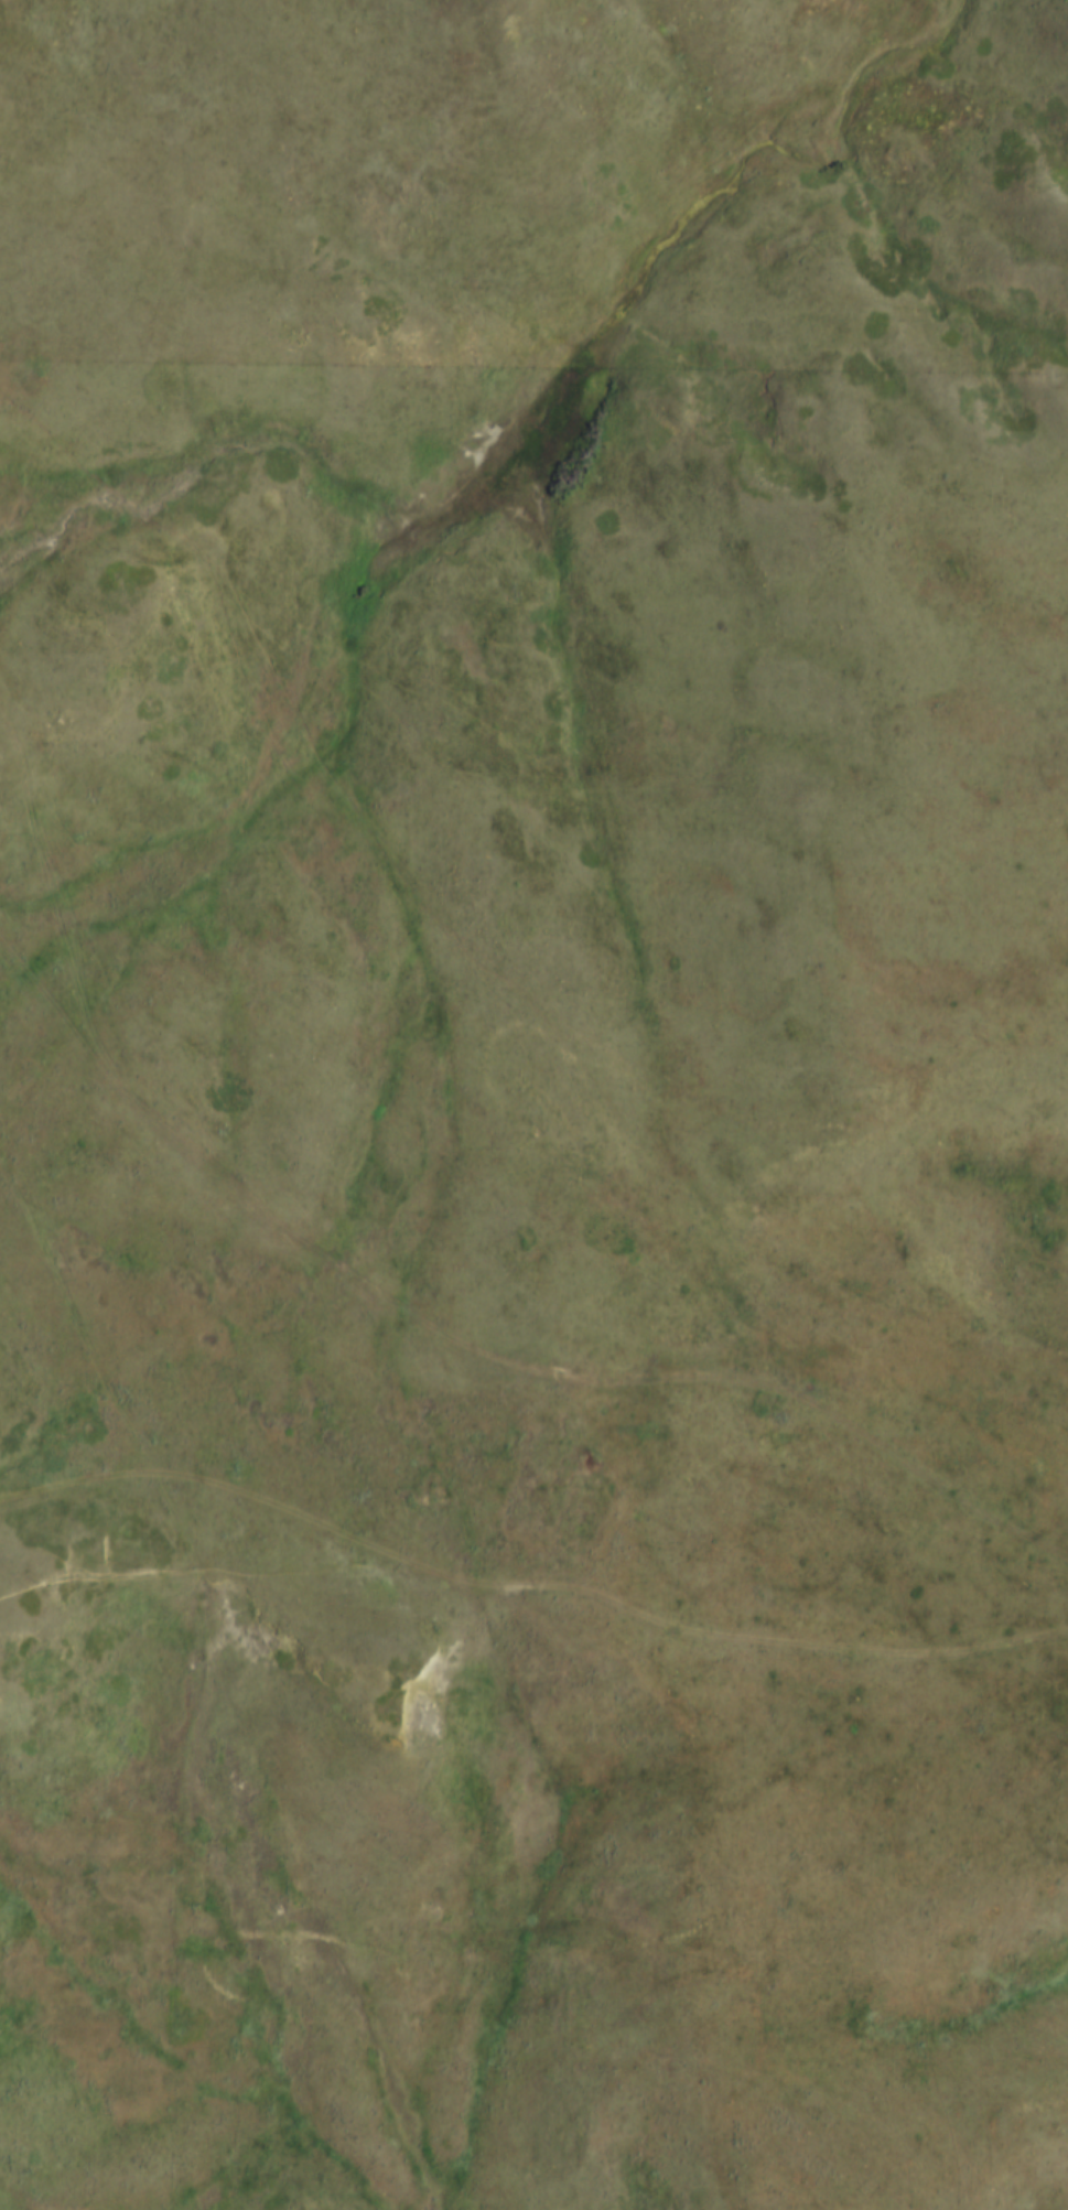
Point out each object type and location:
road: (484, 1357)
road: (526, 1588)
road: (977, 2029)

